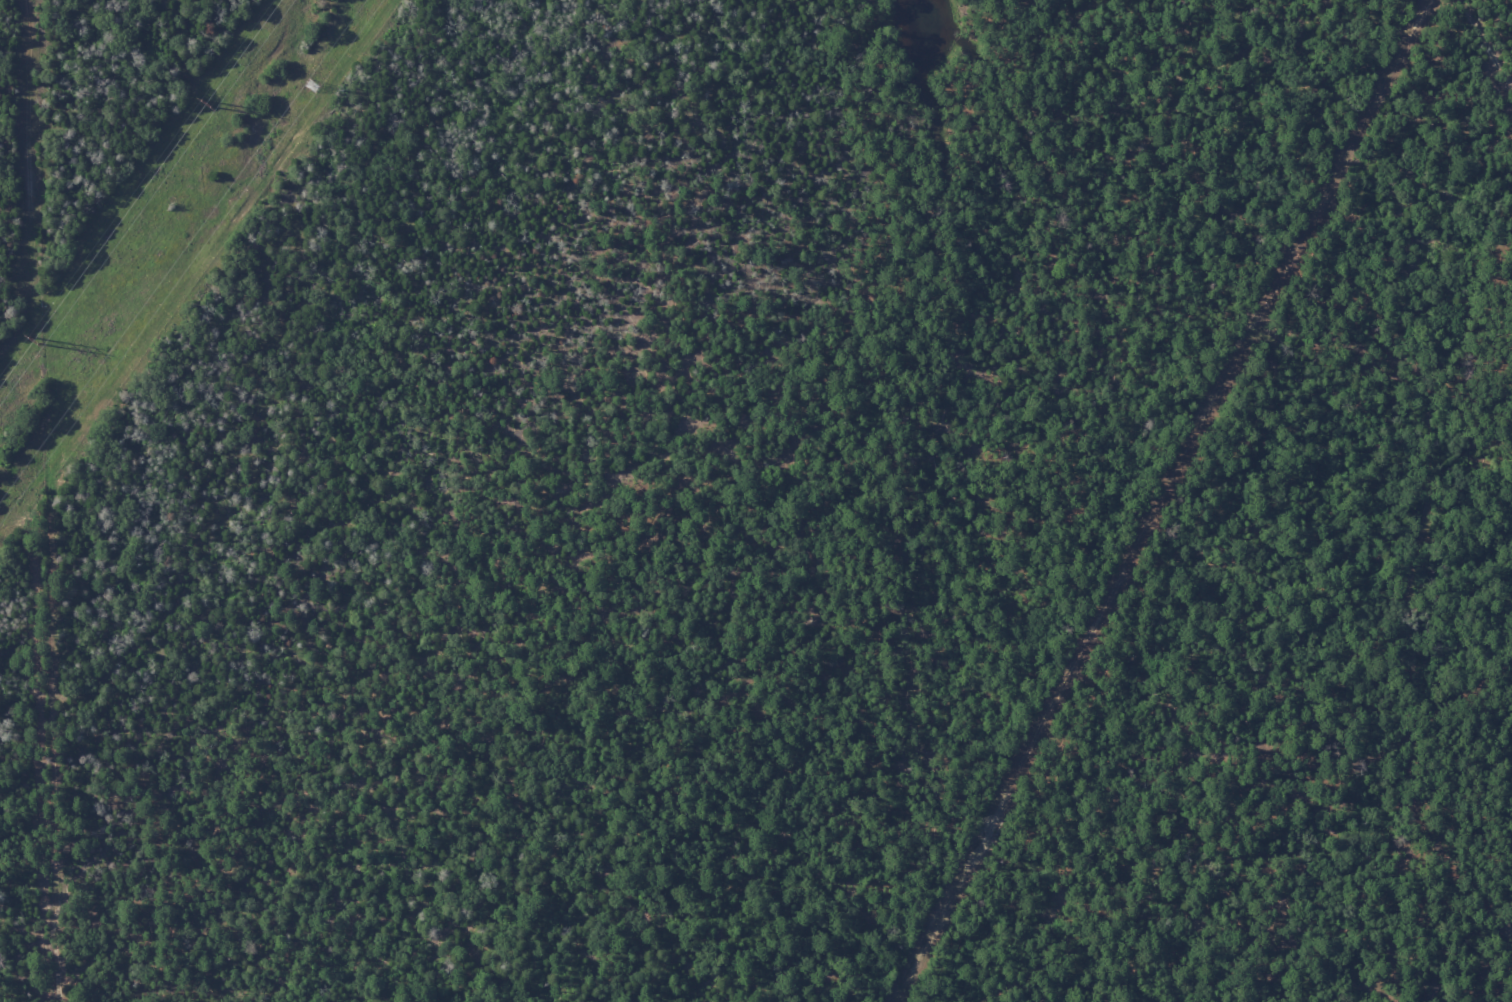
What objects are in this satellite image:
power tower: (310, 87)
power tower: (206, 103)
power tower: (31, 339)

